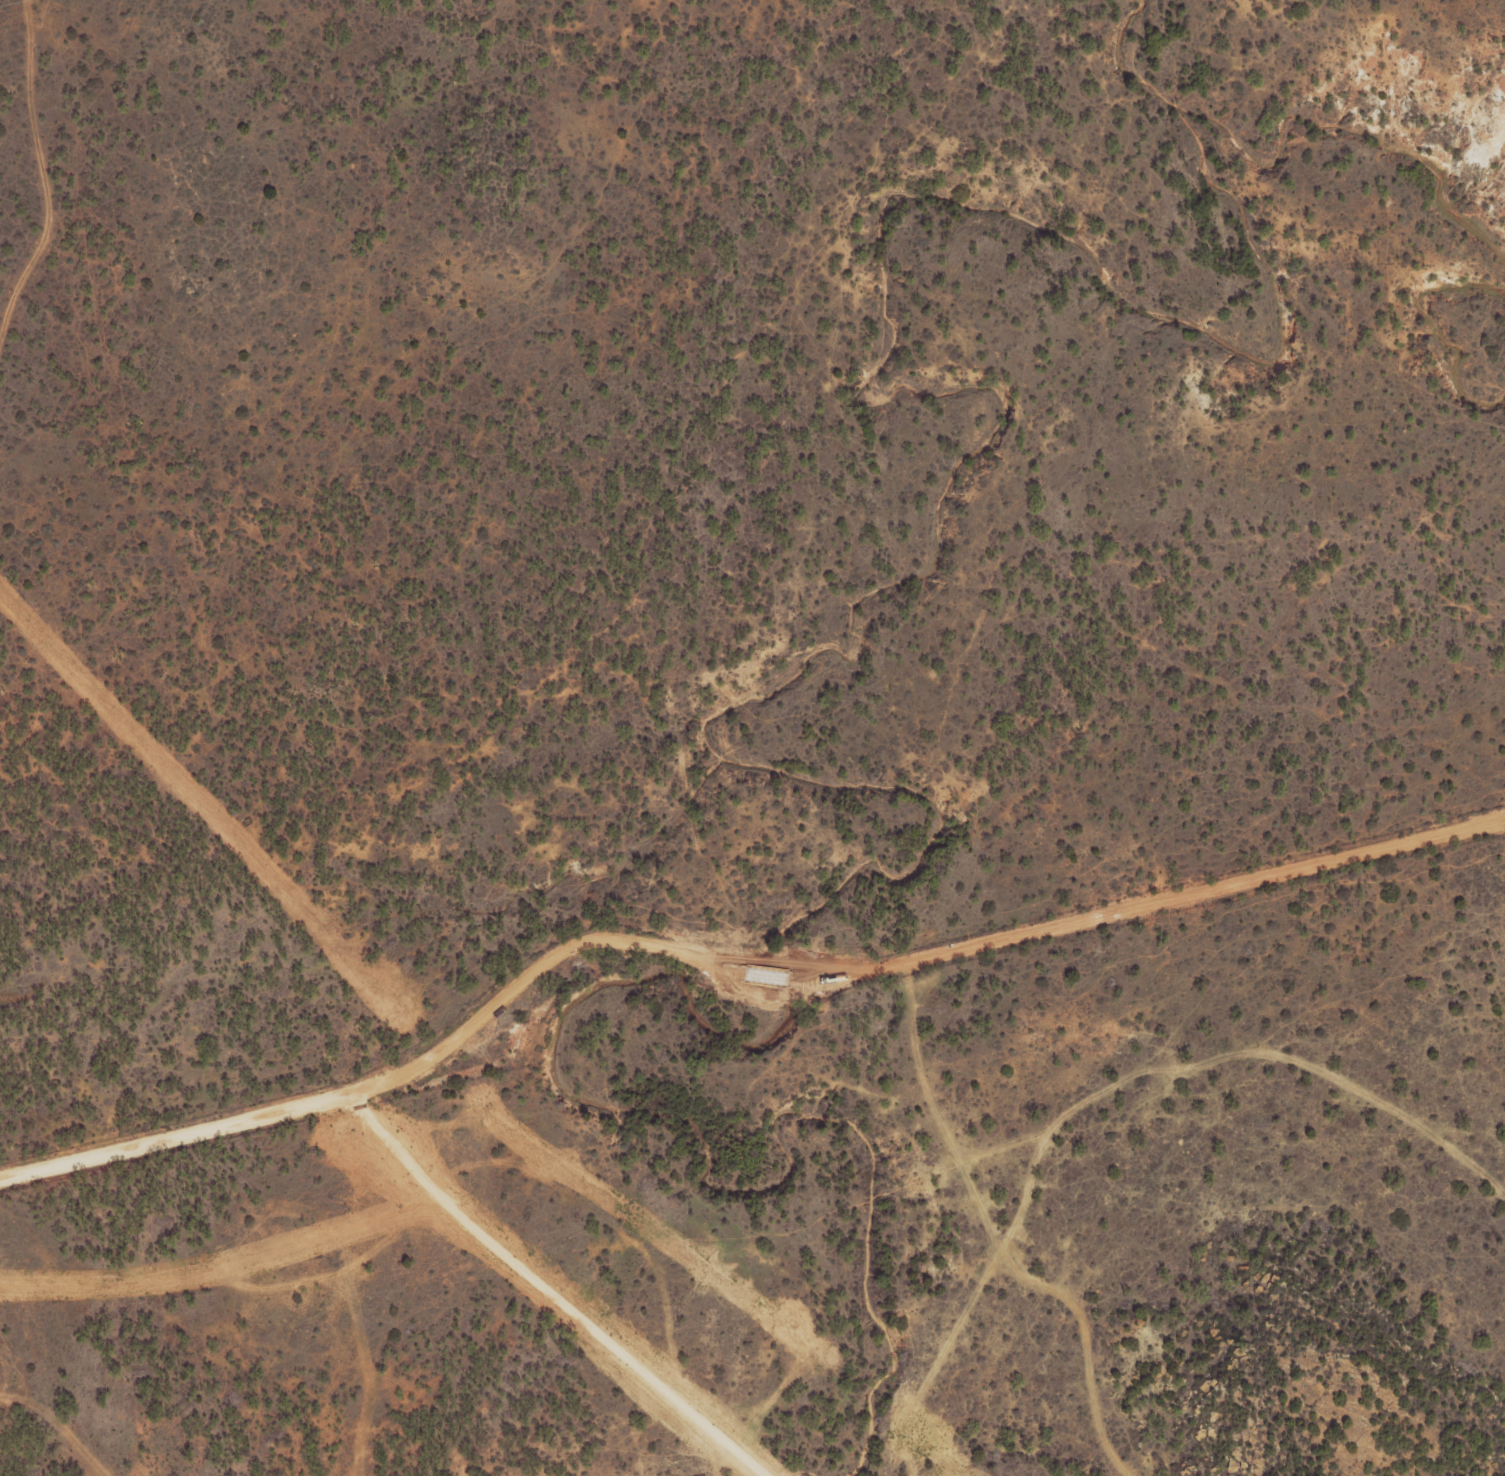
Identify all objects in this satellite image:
road: (46, 161)
road: (735, 967)
road: (1219, 1078)
road: (999, 1231)
road: (549, 1293)

